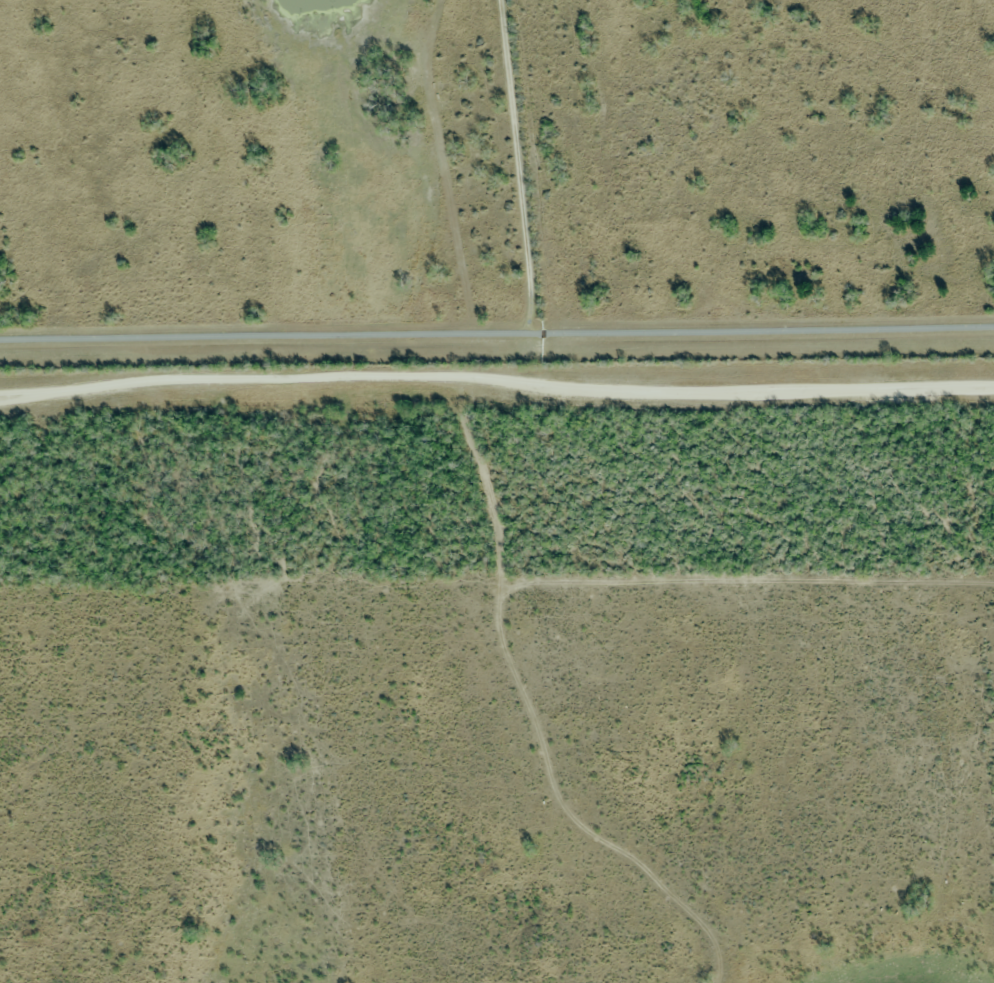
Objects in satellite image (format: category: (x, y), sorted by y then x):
road: (572, 169)
road: (497, 345)
road: (496, 381)

